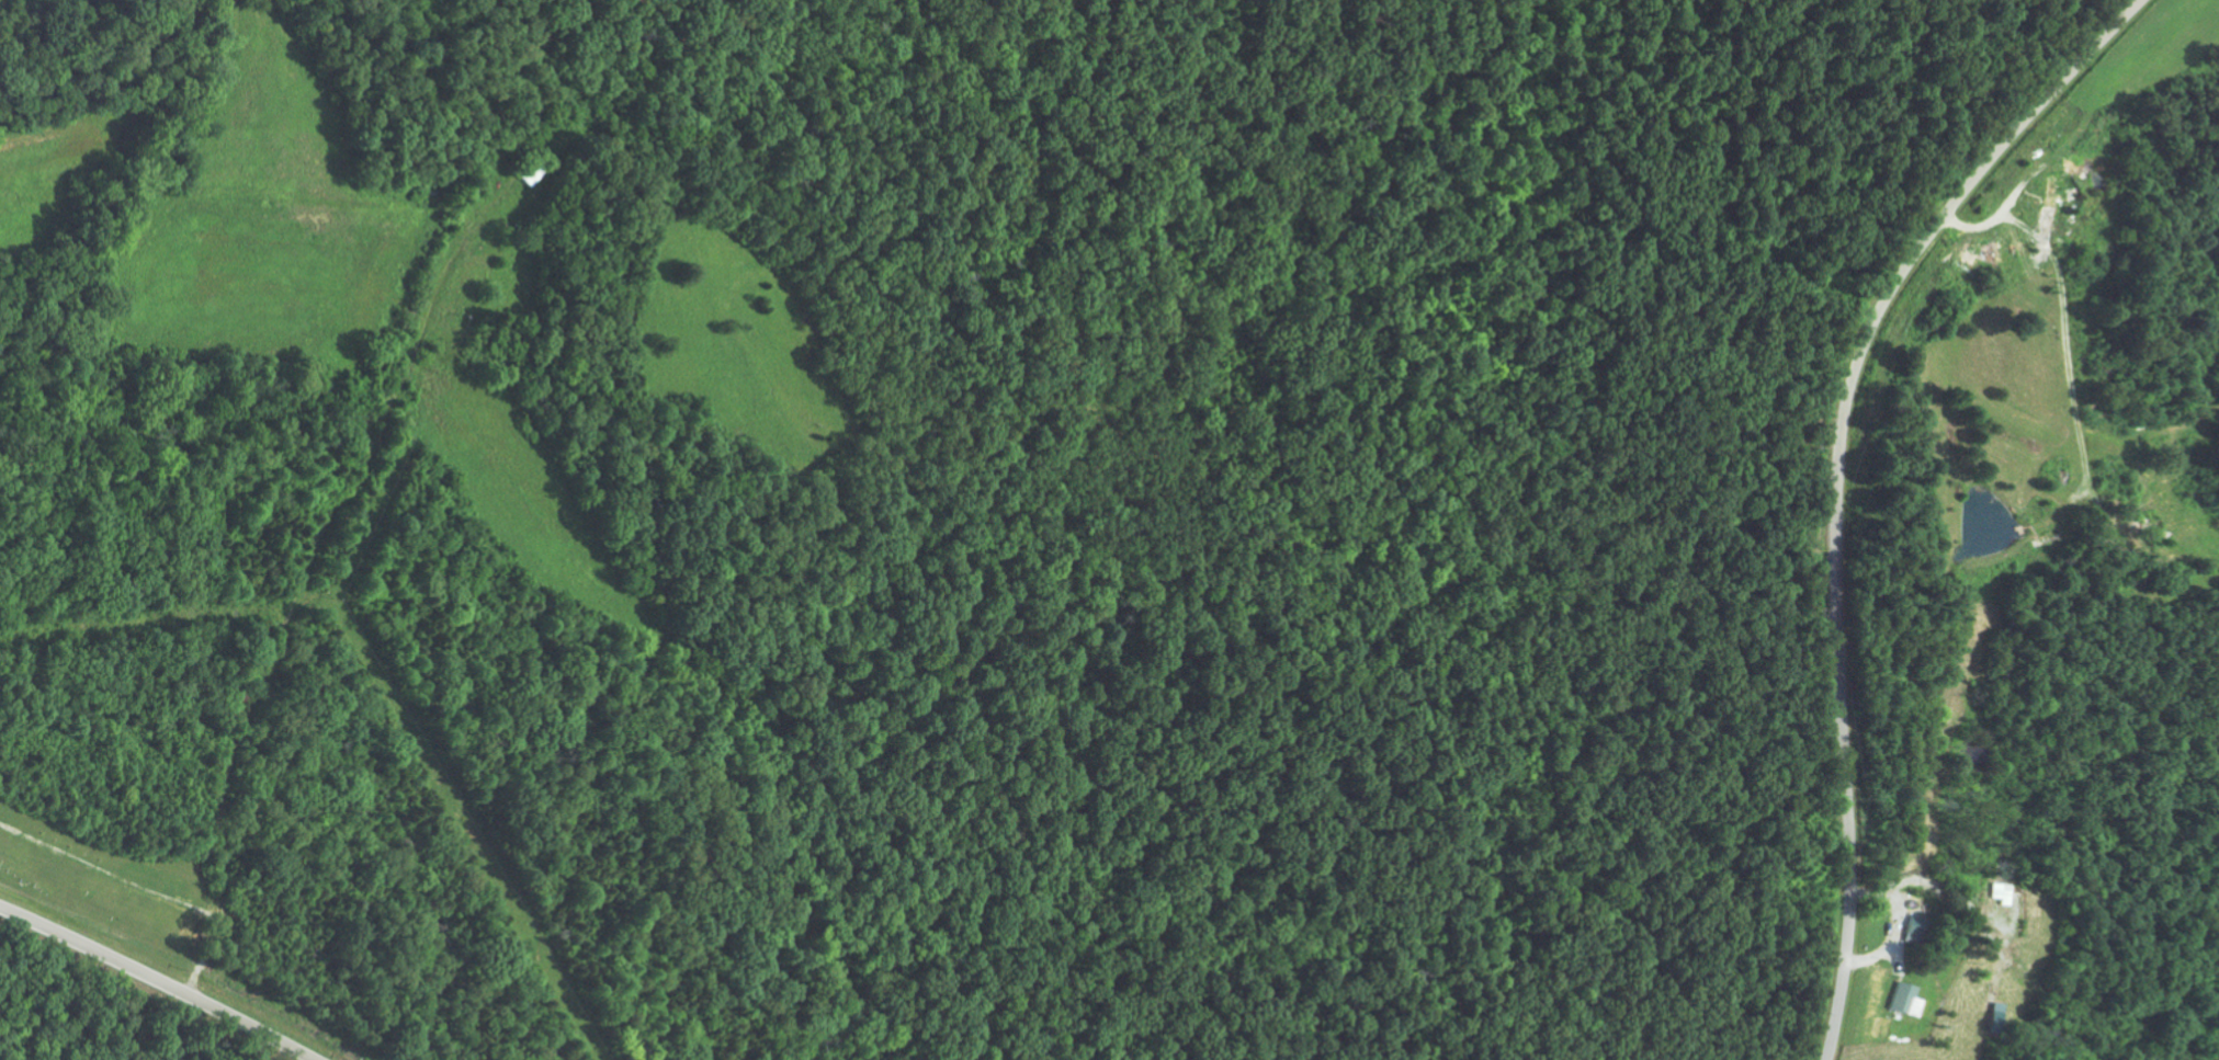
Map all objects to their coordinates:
building: (2050, 205)
building: (1989, 252)
building: (1972, 258)
road: (1842, 481)
park: (54, 855)
building: (2000, 892)
building: (1913, 931)
road: (157, 979)
building: (1903, 999)
building: (1995, 1018)

